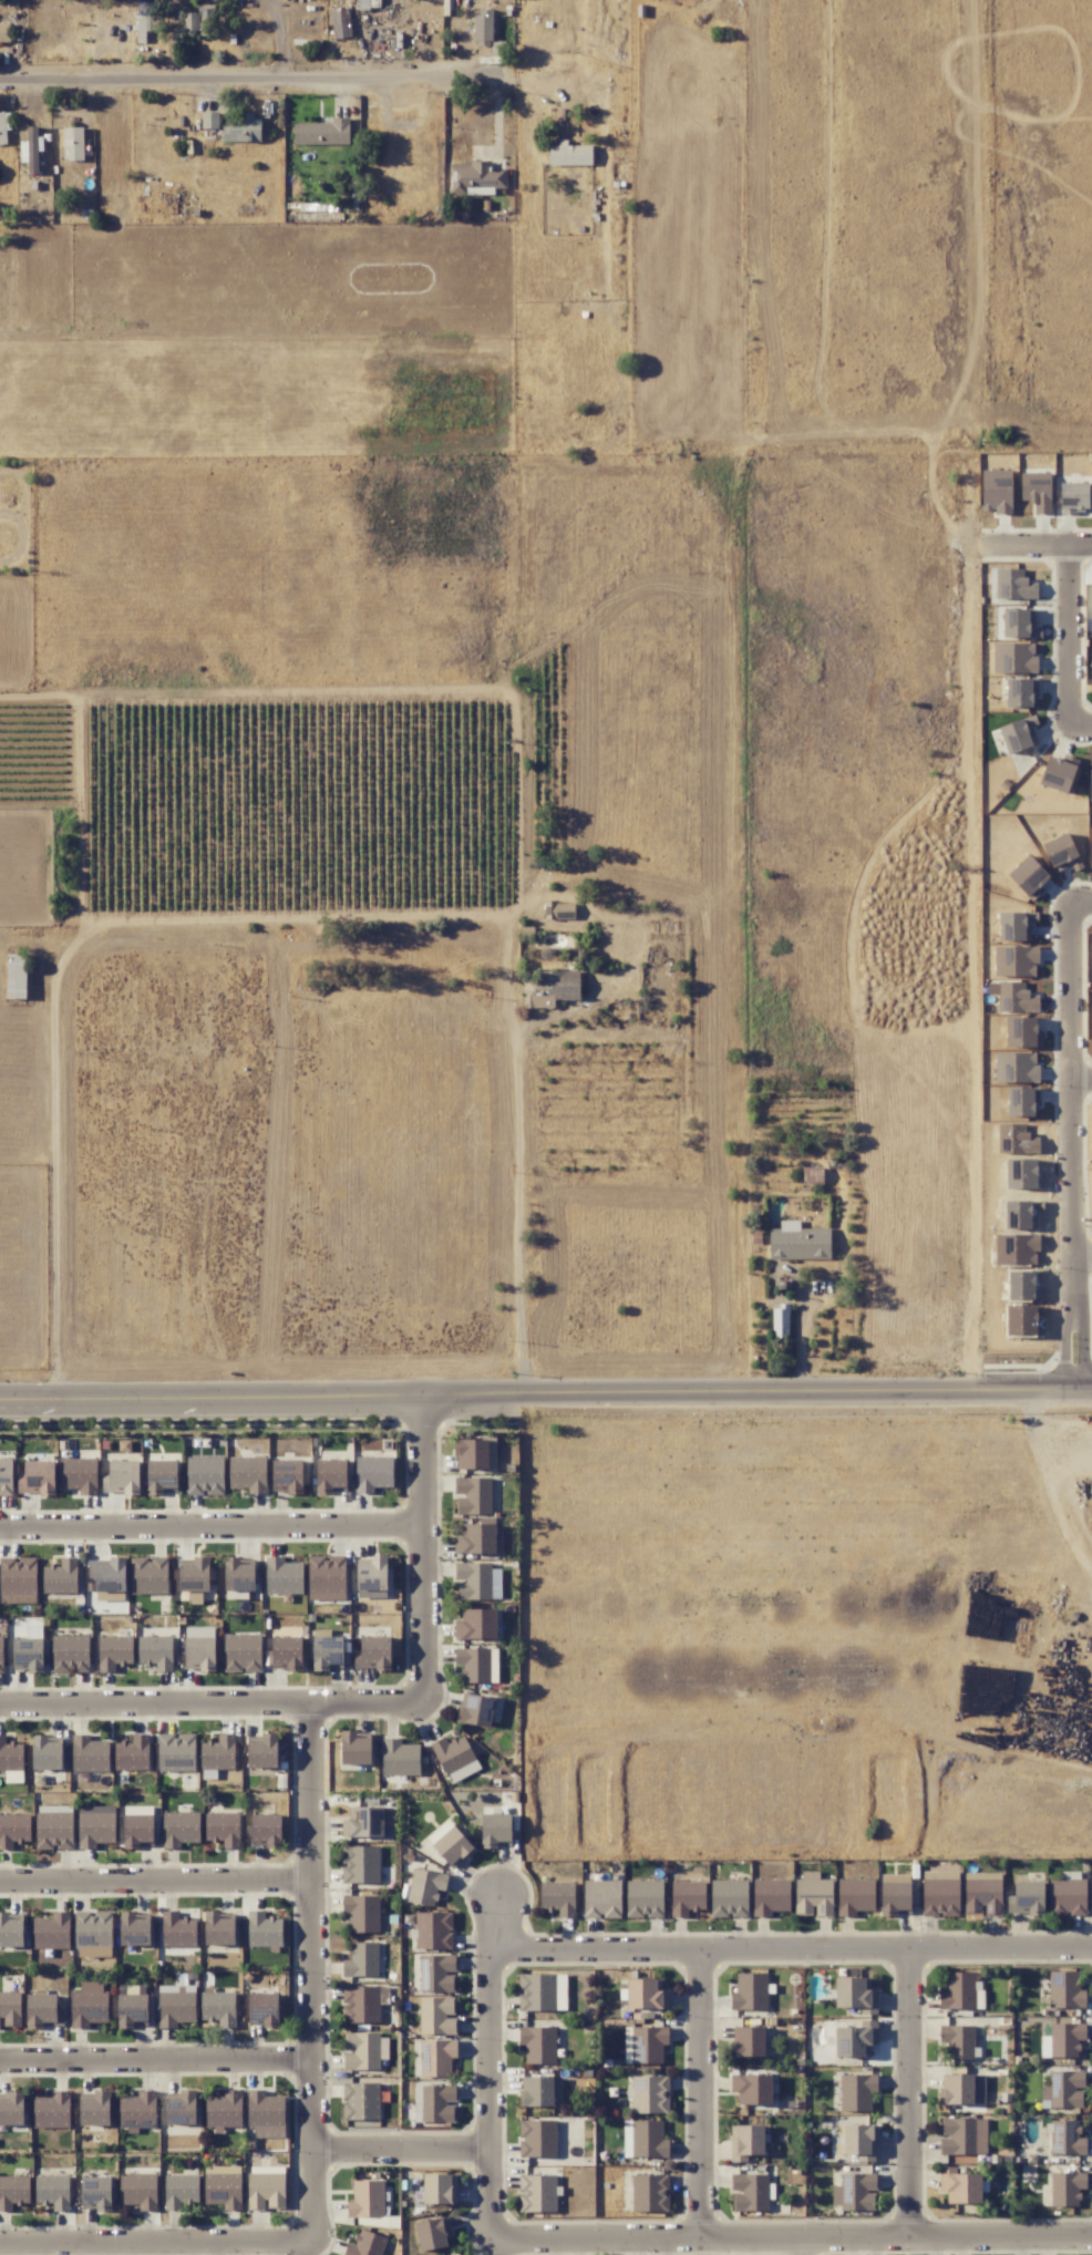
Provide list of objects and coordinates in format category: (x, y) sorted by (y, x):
building: (143, 19)
building: (199, 19)
building: (339, 23)
building: (482, 30)
building: (4, 32)
road: (279, 37)
road: (247, 75)
building: (209, 120)
building: (2, 128)
building: (241, 128)
building: (322, 133)
building: (72, 144)
building: (31, 148)
building: (569, 155)
building: (475, 178)
road: (1052, 539)
road: (1076, 635)
building: (1014, 735)
building: (550, 907)
building: (16, 976)
building: (526, 993)
building: (1016, 997)
building: (1021, 1031)
building: (1026, 1067)
road: (1078, 1074)
road: (1085, 1075)
building: (1021, 1102)
building: (799, 1242)
road: (1086, 1253)
building: (780, 1321)
road: (1081, 1321)
road: (801, 1335)
road: (545, 1392)
building: (475, 1453)
building: (373, 1473)
building: (79, 1474)
building: (247, 1474)
building: (286, 1474)
building: (204, 1475)
building: (331, 1475)
building: (6, 1476)
building: (122, 1476)
building: (161, 1476)
building: (37, 1477)
building: (473, 1495)
road: (212, 1527)
building: (475, 1540)
road: (423, 1546)
building: (148, 1575)
building: (194, 1575)
building: (60, 1576)
building: (238, 1576)
building: (282, 1577)
building: (107, 1578)
building: (326, 1578)
building: (371, 1579)
building: (18, 1580)
building: (476, 1580)
building: (475, 1624)
building: (286, 1647)
building: (199, 1648)
building: (155, 1651)
building: (241, 1651)
building: (1, 1652)
building: (113, 1652)
building: (327, 1652)
building: (69, 1654)
building: (372, 1654)
building: (28, 1655)
building: (476, 1664)
road: (212, 1699)
building: (475, 1710)
building: (356, 1749)
building: (262, 1751)
building: (176, 1752)
building: (47, 1753)
building: (132, 1753)
building: (89, 1754)
building: (216, 1755)
building: (399, 1758)
building: (455, 1758)
building: (11, 1760)
building: (367, 1822)
building: (95, 1825)
building: (53, 1826)
building: (179, 1829)
building: (222, 1829)
building: (266, 1829)
building: (13, 1830)
building: (495, 1830)
building: (137, 1831)
building: (450, 1843)
building: (360, 1864)
road: (156, 1880)
building: (425, 1886)
building: (361, 1913)
building: (93, 1927)
building: (133, 1929)
building: (177, 1929)
building: (218, 1929)
building: (262, 1929)
building: (10, 1930)
building: (433, 1930)
building: (51, 1932)
road: (791, 1949)
building: (361, 1959)
road: (312, 1970)
building: (436, 1973)
building: (523, 1991)
building: (362, 2002)
building: (87, 2005)
building: (176, 2005)
building: (218, 2007)
building: (9, 2008)
building: (262, 2009)
building: (43, 2010)
building: (132, 2010)
building: (436, 2016)
building: (525, 2041)
building: (364, 2050)
building: (436, 2057)
road: (156, 2060)
road: (490, 2067)
building: (525, 2091)
building: (861, 2092)
road: (910, 2093)
road: (699, 2094)
building: (360, 2101)
building: (12, 2109)
building: (94, 2109)
building: (137, 2109)
building: (51, 2111)
building: (223, 2111)
building: (265, 2113)
building: (524, 2138)
road: (401, 2149)
building: (223, 2186)
building: (265, 2186)
building: (440, 2189)
building: (179, 2190)
building: (13, 2191)
building: (52, 2191)
building: (138, 2191)
building: (95, 2193)
building: (524, 2193)
building: (365, 2199)
building: (432, 2233)
road: (791, 2238)
road: (156, 2243)
building: (365, 2244)
road: (801, 2246)
building: (454, 2254)

